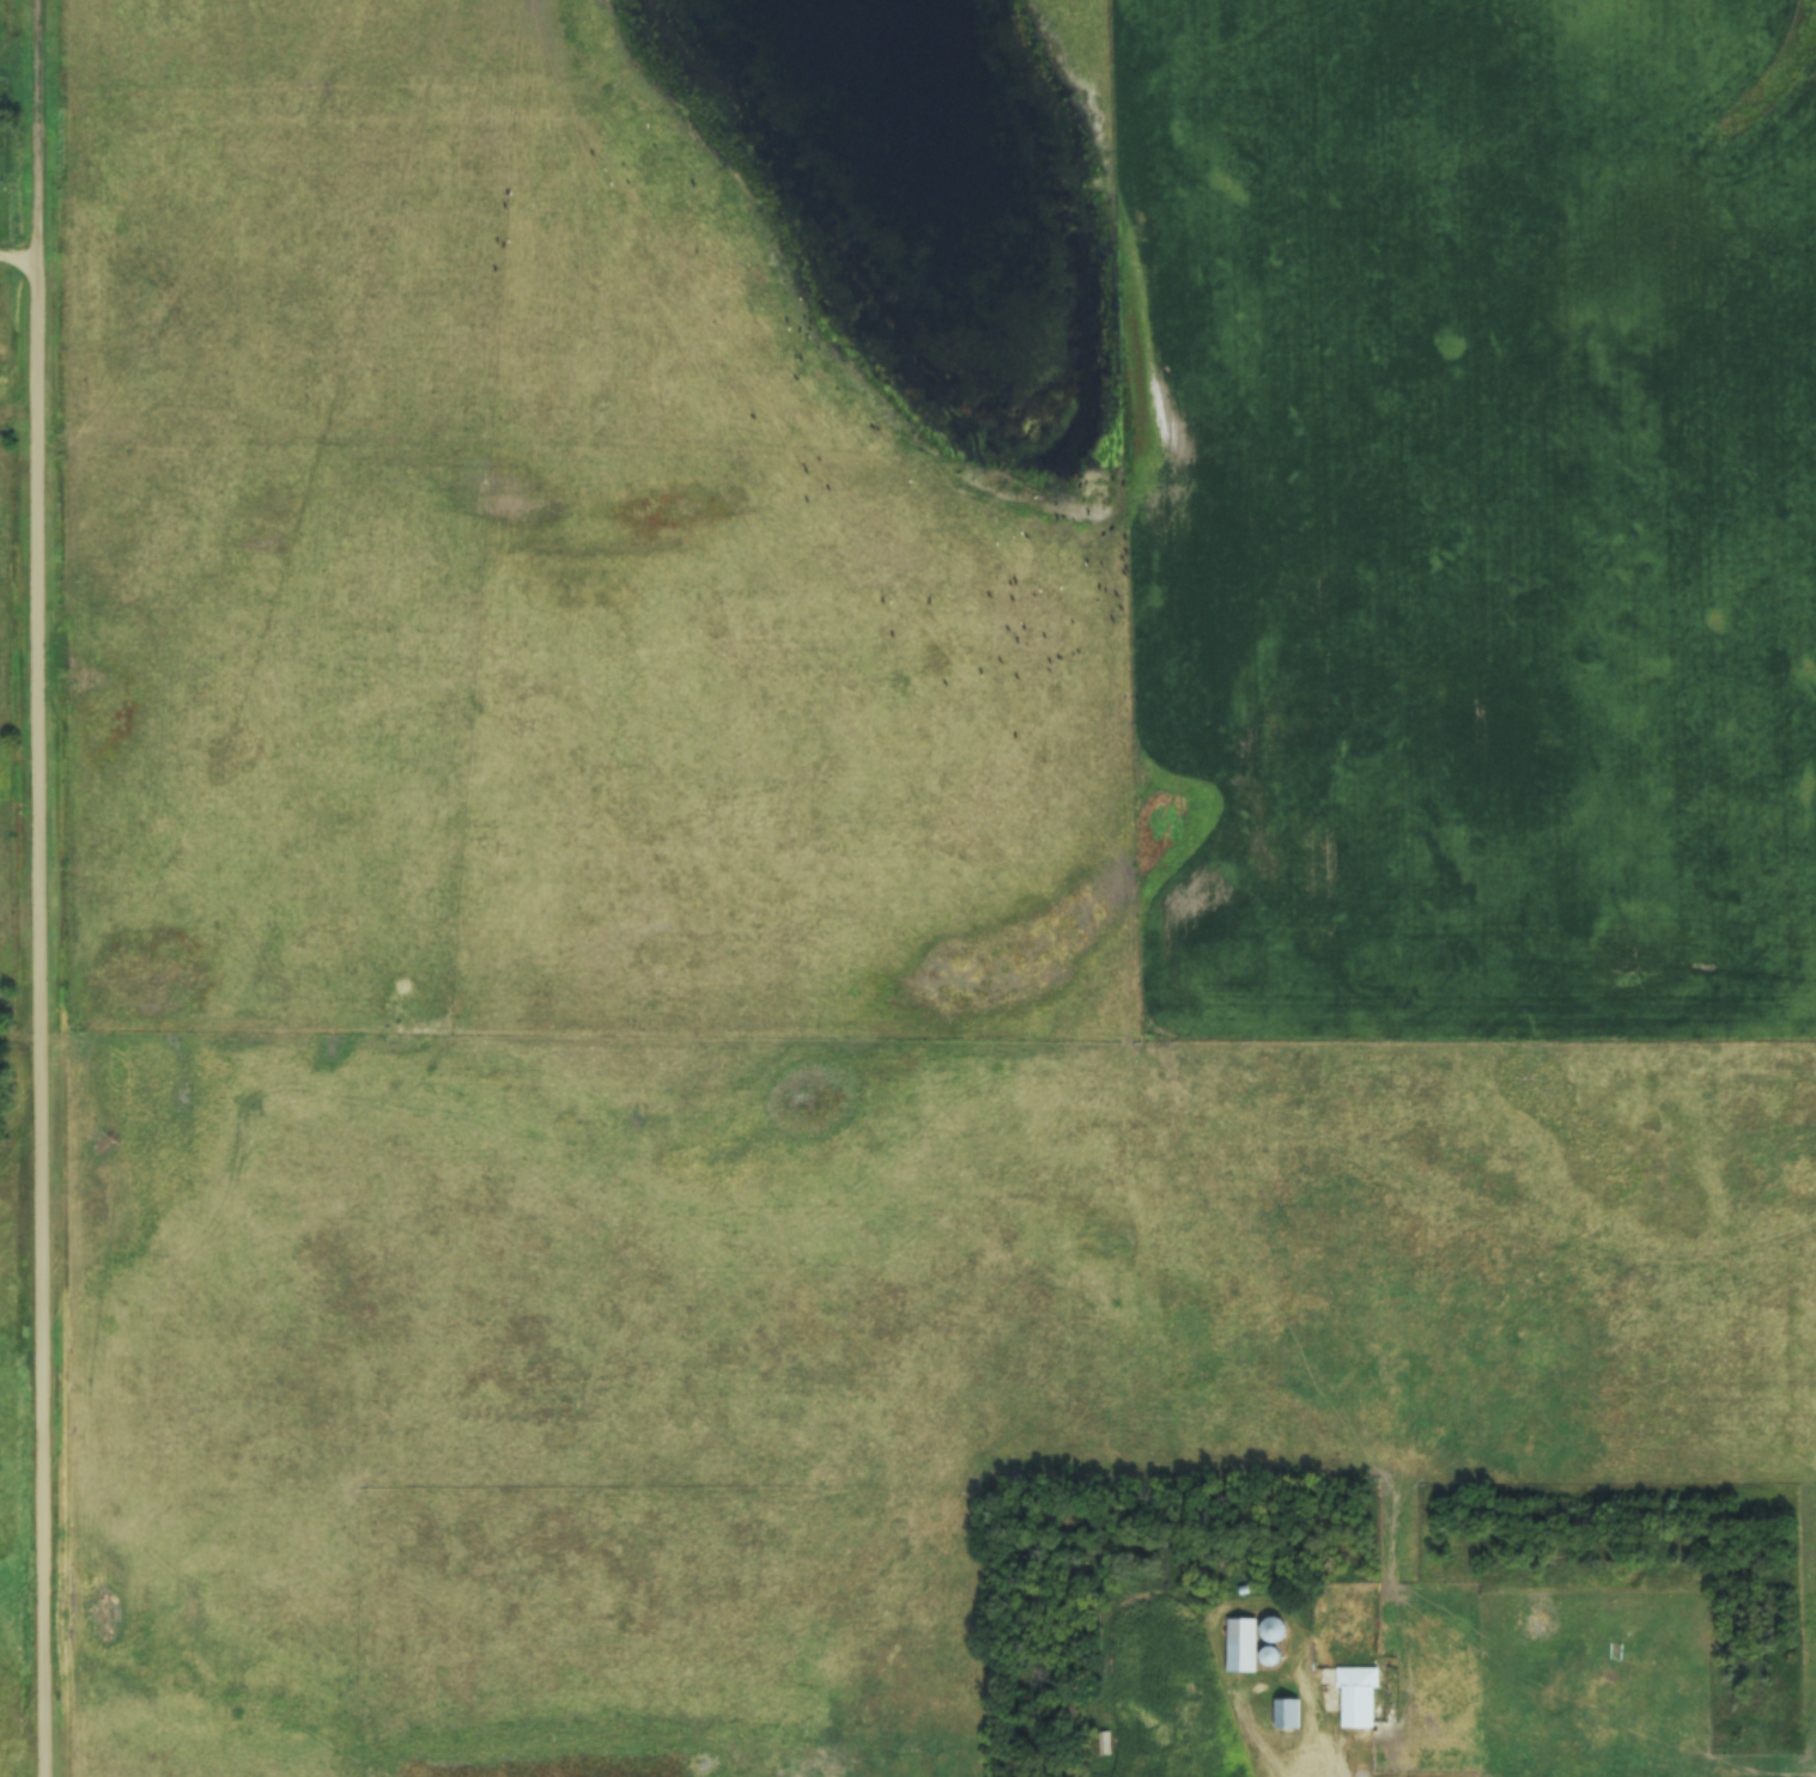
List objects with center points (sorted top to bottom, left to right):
road: (19, 266)
road: (43, 1023)
building: (1275, 1630)
building: (1241, 1647)
building: (1274, 1661)
building: (1361, 1702)
building: (1282, 1716)
building: (1190, 1717)
building: (1104, 1745)

